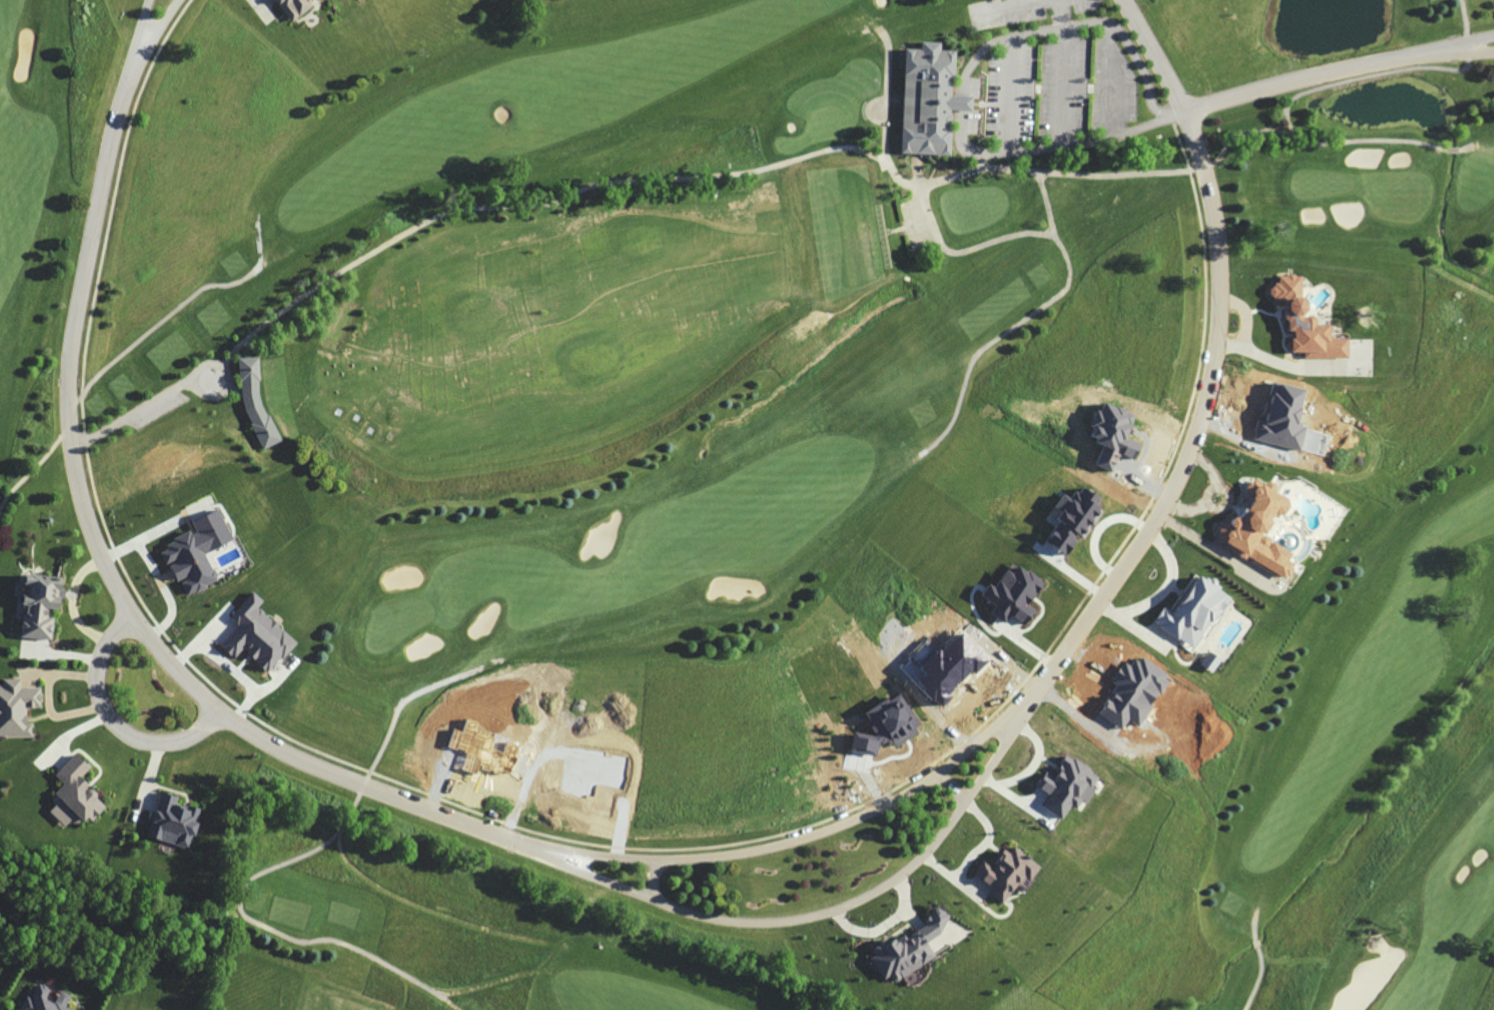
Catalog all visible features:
building: (293, 8)
road: (1062, 12)
road: (139, 35)
road: (154, 35)
road: (1460, 44)
road: (1460, 52)
road: (964, 76)
road: (1305, 76)
road: (1321, 88)
parking lot: (1011, 97)
building: (926, 99)
road: (1175, 112)
road: (1248, 132)
road: (886, 157)
road: (1204, 164)
road: (1113, 174)
road: (533, 204)
road: (965, 250)
road: (1048, 301)
building: (1306, 323)
road: (1215, 360)
park: (661, 363)
road: (109, 364)
road: (207, 395)
building: (255, 401)
road: (135, 413)
building: (1079, 514)
building: (1257, 528)
building: (196, 552)
road: (112, 576)
building: (1012, 594)
building: (37, 603)
building: (1194, 614)
building: (256, 634)
building: (17, 707)
road: (113, 719)
building: (885, 726)
park: (1369, 766)
road: (953, 785)
building: (1066, 786)
building: (73, 793)
building: (172, 822)
road: (805, 837)
road: (292, 860)
building: (1005, 872)
road: (653, 878)
road: (828, 910)
road: (1255, 927)
building: (916, 945)
road: (1258, 980)

